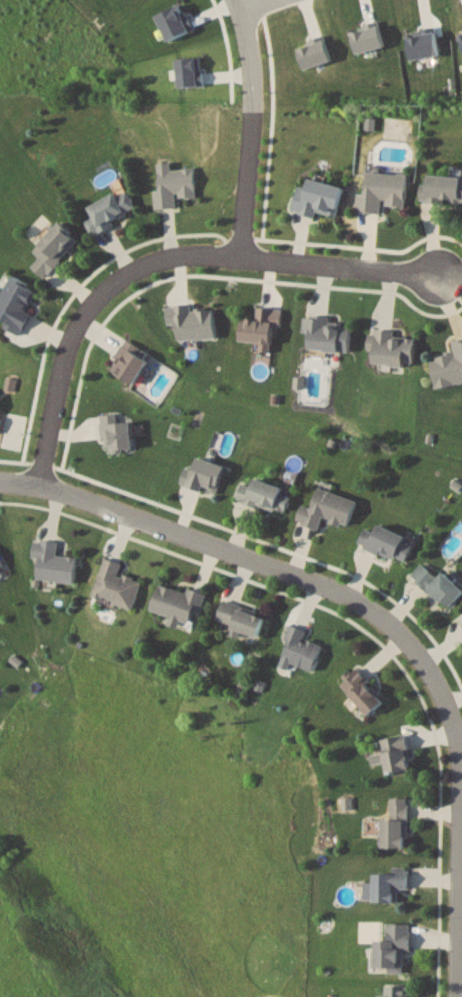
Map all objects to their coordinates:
road: (256, 4)
road: (251, 59)
building: (173, 183)
road: (246, 188)
building: (442, 188)
building: (383, 191)
building: (108, 210)
building: (52, 247)
road: (165, 258)
building: (327, 333)
building: (392, 347)
building: (128, 362)
building: (448, 366)
building: (265, 495)
building: (327, 509)
building: (386, 542)
building: (53, 562)
building: (116, 584)
building: (438, 585)
building: (177, 602)
building: (240, 617)
road: (375, 623)
building: (300, 648)
building: (362, 692)
building: (396, 754)
building: (396, 824)
building: (388, 886)
building: (392, 947)
building: (396, 991)

